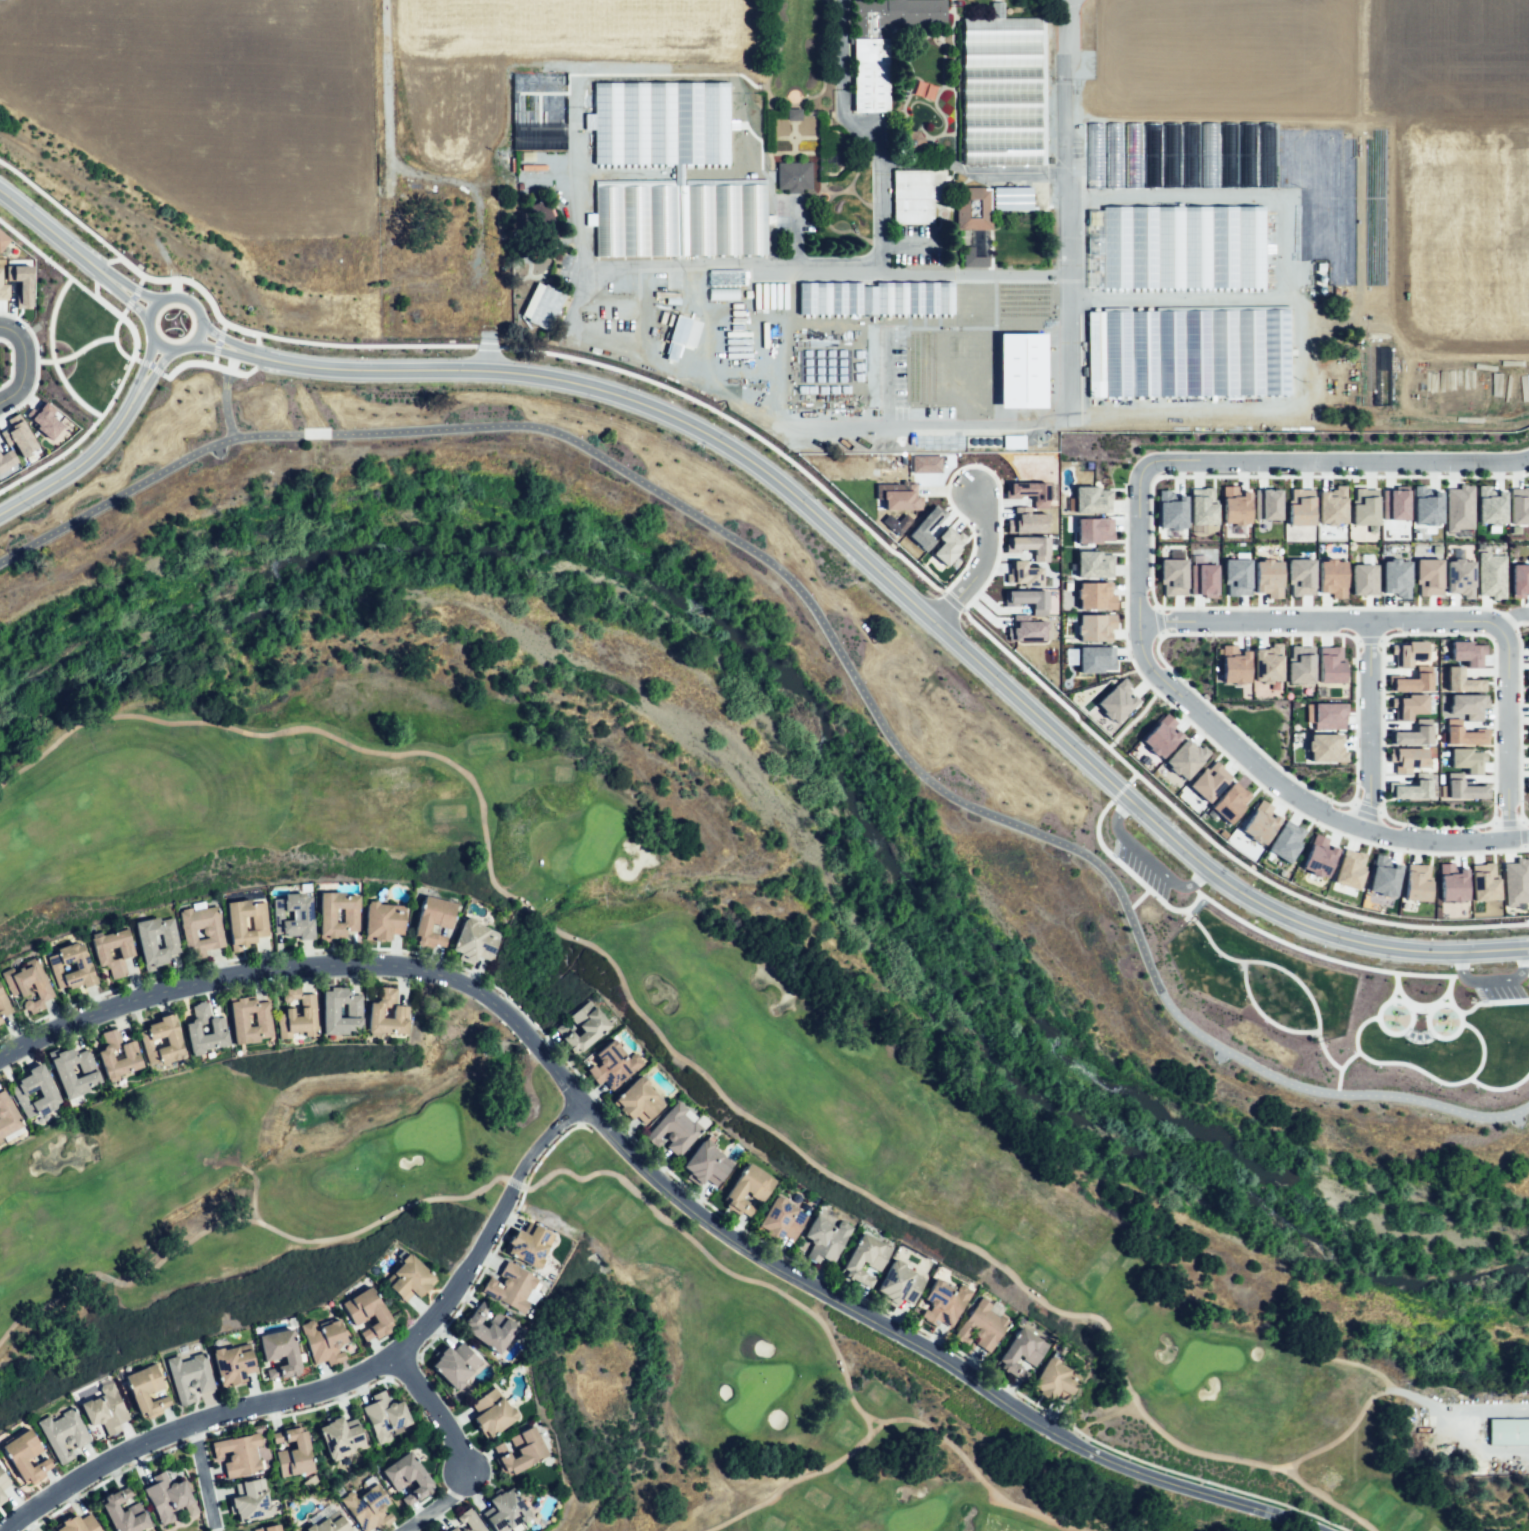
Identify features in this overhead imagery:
building: (871, 77)
crop: (580, 90)
building: (1004, 93)
road: (389, 106)
building: (794, 117)
crop: (230, 119)
road: (873, 122)
building: (1208, 154)
building: (1226, 154)
building: (1245, 171)
building: (1131, 173)
building: (1187, 173)
building: (794, 178)
building: (1013, 196)
building: (916, 197)
road: (60, 208)
building: (973, 208)
road: (1063, 209)
building: (539, 210)
crop: (1184, 219)
building: (681, 221)
road: (45, 227)
building: (450, 235)
building: (2, 240)
building: (1182, 246)
road: (906, 248)
road: (47, 259)
building: (973, 259)
road: (105, 260)
building: (444, 261)
road: (729, 262)
road: (100, 272)
road: (972, 272)
building: (726, 277)
road: (93, 280)
road: (139, 280)
building: (20, 282)
building: (427, 285)
road: (172, 287)
road: (133, 290)
building: (3, 291)
road: (132, 296)
road: (161, 298)
building: (875, 298)
road: (127, 300)
building: (543, 306)
road: (126, 321)
road: (1, 324)
road: (1327, 324)
road: (221, 325)
road: (218, 335)
road: (282, 337)
road: (115, 340)
road: (217, 341)
building: (683, 341)
road: (259, 345)
road: (213, 347)
road: (487, 347)
road: (75, 352)
road: (625, 352)
road: (250, 353)
road: (486, 353)
road: (50, 354)
building: (1190, 356)
road: (213, 360)
road: (146, 361)
road: (22, 362)
road: (35, 362)
road: (200, 362)
road: (10, 363)
road: (155, 366)
road: (151, 367)
road: (253, 367)
building: (1021, 370)
road: (513, 371)
road: (883, 376)
road: (224, 393)
building: (44, 419)
road: (976, 425)
road: (742, 428)
building: (17, 435)
road: (80, 438)
building: (6, 458)
road: (83, 460)
road: (1342, 461)
building: (924, 463)
road: (977, 465)
road: (1276, 475)
building: (1027, 491)
building: (897, 494)
building: (1091, 499)
building: (1266, 504)
building: (1394, 504)
building: (1202, 505)
building: (1234, 505)
building: (1331, 505)
building: (1426, 505)
building: (1518, 505)
building: (1299, 506)
building: (1363, 506)
building: (1489, 506)
building: (1458, 507)
building: (1170, 510)
building: (895, 522)
building: (924, 527)
building: (1093, 529)
building: (946, 544)
building: (1032, 544)
building: (1094, 564)
road: (977, 565)
building: (1021, 573)
building: (1236, 574)
building: (1490, 575)
building: (1300, 576)
building: (1427, 576)
building: (1172, 577)
building: (1202, 577)
building: (1267, 577)
building: (1331, 577)
building: (1395, 577)
building: (1458, 577)
building: (1363, 579)
building: (1519, 579)
building: (1094, 595)
building: (1028, 598)
road: (951, 600)
road: (1434, 607)
road: (1510, 615)
road: (1318, 620)
road: (1157, 621)
road: (1521, 623)
building: (1094, 626)
building: (1024, 628)
road: (823, 629)
road: (1258, 633)
road: (1367, 638)
building: (1527, 642)
building: (1407, 652)
building: (1467, 652)
building: (1095, 658)
building: (1267, 663)
building: (1233, 664)
building: (1299, 664)
building: (1330, 665)
road: (1493, 671)
building: (1527, 679)
building: (1412, 680)
building: (1461, 680)
building: (1527, 696)
building: (1116, 700)
building: (1467, 705)
building: (1408, 706)
building: (1325, 715)
road: (1136, 717)
road: (1356, 719)
road: (1366, 725)
road: (1381, 725)
road: (1505, 731)
road: (1239, 732)
building: (1528, 733)
building: (1412, 734)
building: (1460, 734)
building: (1160, 736)
road: (1110, 743)
road: (1230, 743)
building: (1325, 748)
building: (1528, 751)
building: (1183, 759)
building: (1406, 759)
building: (1466, 759)
road: (1132, 776)
road: (1101, 778)
building: (1208, 781)
building: (1527, 787)
building: (1410, 788)
building: (1462, 788)
road: (1118, 790)
building: (1230, 802)
road: (1364, 808)
building: (1259, 822)
road: (1507, 823)
road: (1525, 823)
road: (1317, 824)
road: (1433, 825)
road: (1522, 833)
road: (1528, 836)
road: (1528, 837)
road: (1209, 840)
building: (1285, 840)
road: (1523, 847)
road: (1526, 849)
building: (1318, 856)
road: (1147, 858)
parking lot: (1140, 861)
building: (1349, 868)
road: (1128, 874)
building: (1383, 876)
building: (1483, 881)
building: (1516, 881)
building: (1416, 882)
building: (1451, 883)
road: (1136, 900)
building: (310, 916)
building: (329, 919)
building: (435, 920)
building: (382, 922)
building: (246, 923)
building: (214, 933)
building: (476, 941)
building: (149, 944)
building: (125, 952)
road: (1317, 954)
building: (83, 967)
road: (1281, 968)
road: (1525, 970)
road: (1490, 976)
building: (29, 985)
road: (1395, 985)
road: (1447, 989)
road: (1399, 994)
road: (1440, 999)
road: (1503, 1000)
building: (4, 1003)
park: (1348, 1006)
building: (332, 1007)
road: (1419, 1008)
road: (1469, 1009)
building: (388, 1014)
road: (1427, 1014)
road: (1261, 1015)
building: (298, 1016)
building: (252, 1019)
road: (1410, 1023)
building: (1, 1025)
building: (206, 1029)
building: (587, 1029)
road: (1416, 1035)
building: (163, 1040)
building: (118, 1056)
building: (615, 1064)
road: (1340, 1068)
road: (1423, 1072)
road: (707, 1073)
building: (66, 1075)
park: (703, 1091)
building: (21, 1092)
building: (639, 1100)
building: (7, 1116)
building: (679, 1129)
building: (0, 1140)
building: (708, 1164)
road: (579, 1179)
road: (656, 1179)
building: (751, 1189)
building: (785, 1220)
building: (827, 1238)
building: (533, 1248)
building: (865, 1259)
building: (412, 1280)
building: (903, 1284)
building: (511, 1287)
building: (946, 1303)
building: (368, 1314)
building: (983, 1326)
building: (495, 1333)
building: (325, 1341)
building: (283, 1349)
building: (1022, 1353)
building: (456, 1364)
building: (233, 1365)
building: (190, 1374)
road: (343, 1376)
building: (1057, 1381)
building: (146, 1391)
building: (106, 1409)
road: (434, 1414)
building: (494, 1414)
building: (385, 1417)
road: (866, 1428)
building: (1510, 1433)
building: (65, 1434)
building: (341, 1438)
building: (295, 1452)
building: (525, 1452)
building: (239, 1454)
road: (1504, 1455)
building: (26, 1456)
road: (204, 1471)
road: (801, 1476)
building: (3, 1477)
building: (409, 1477)
building: (1, 1497)
building: (168, 1498)
road: (1328, 1498)
building: (250, 1501)
road: (435, 1502)
building: (370, 1509)
building: (125, 1512)
building: (510, 1512)
building: (471, 1520)
building: (79, 1524)
building: (330, 1526)
building: (268, 1527)
building: (244, 1530)
building: (456, 1530)

